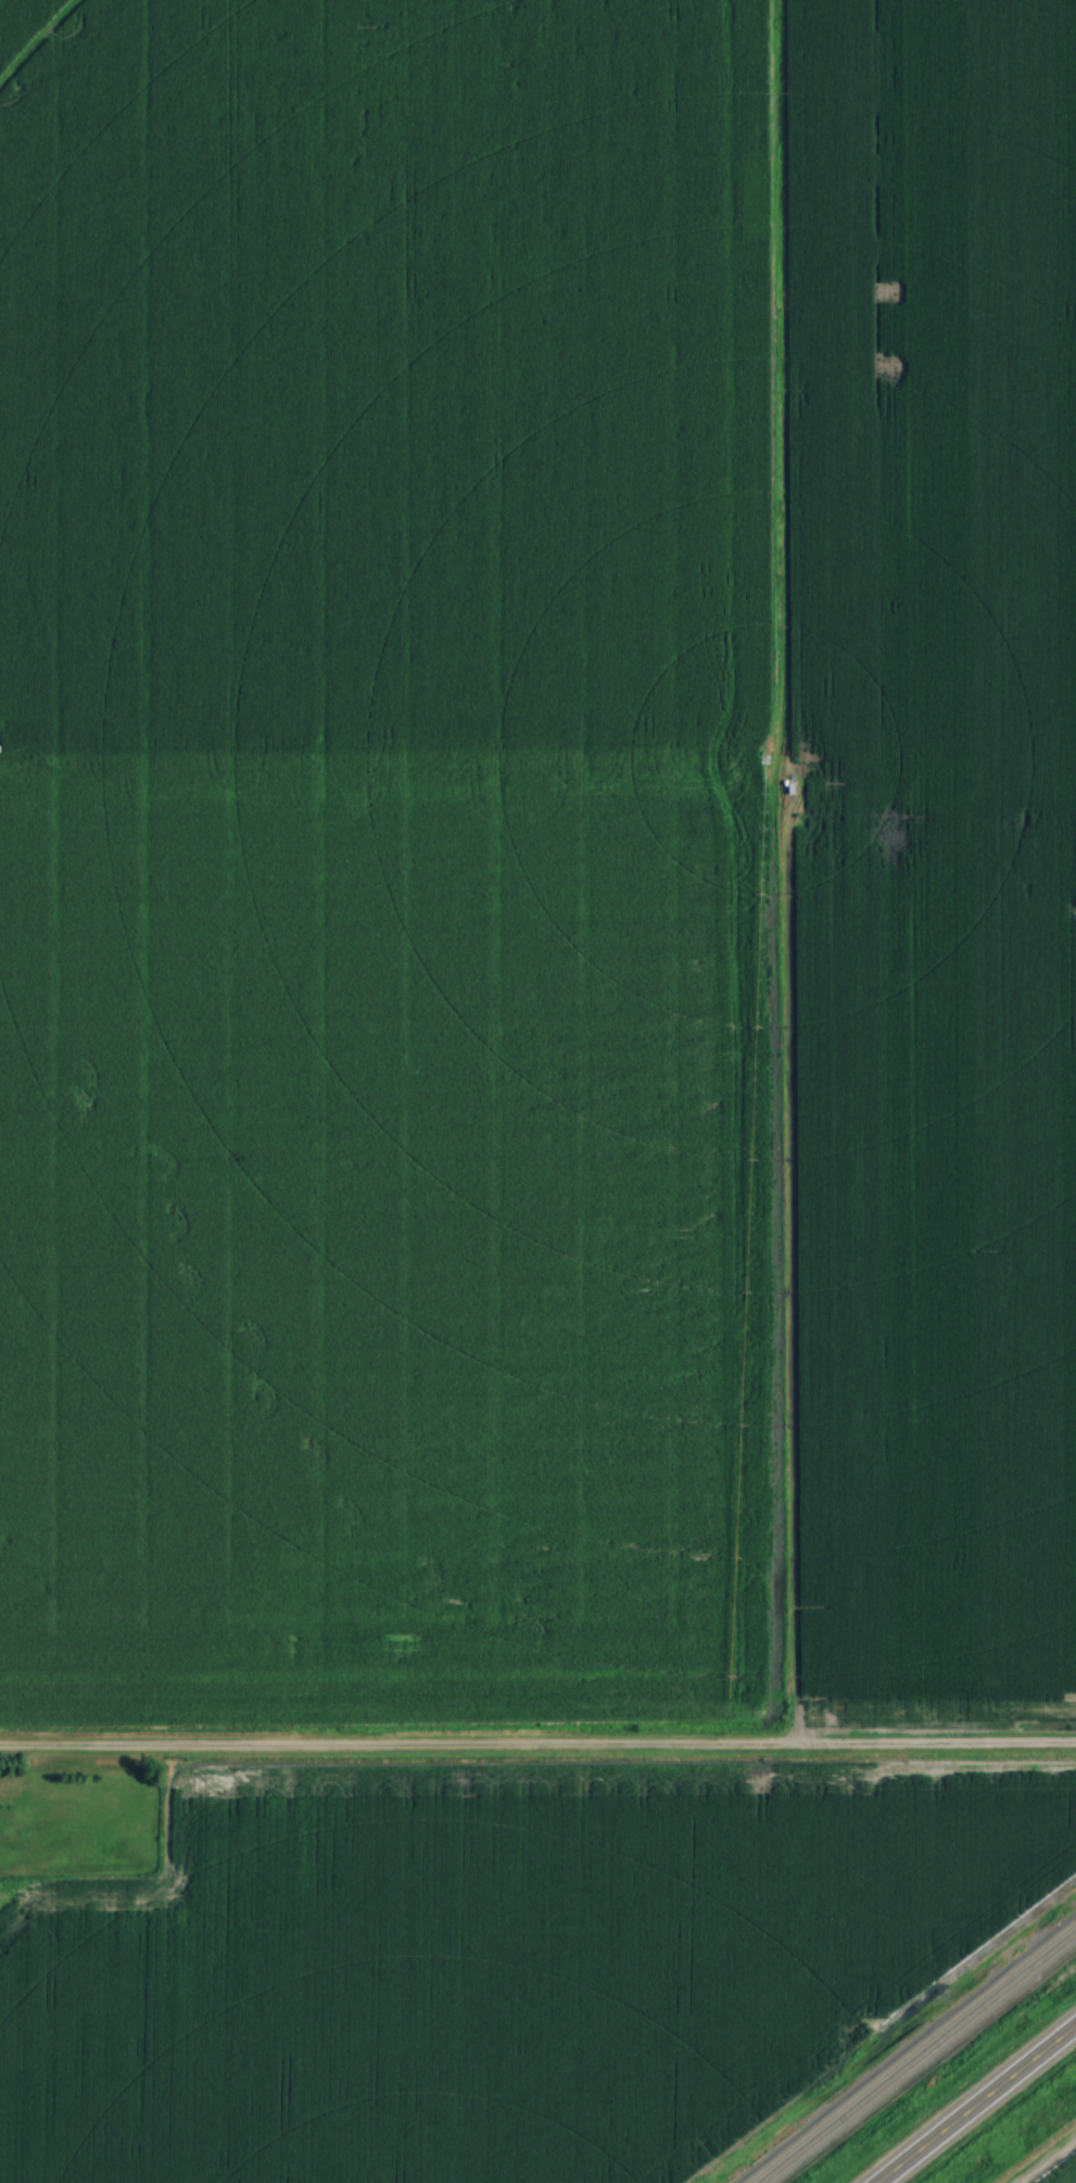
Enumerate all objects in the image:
road: (537, 1742)
railway: (910, 2052)
railway: (919, 2058)
road: (978, 2105)

